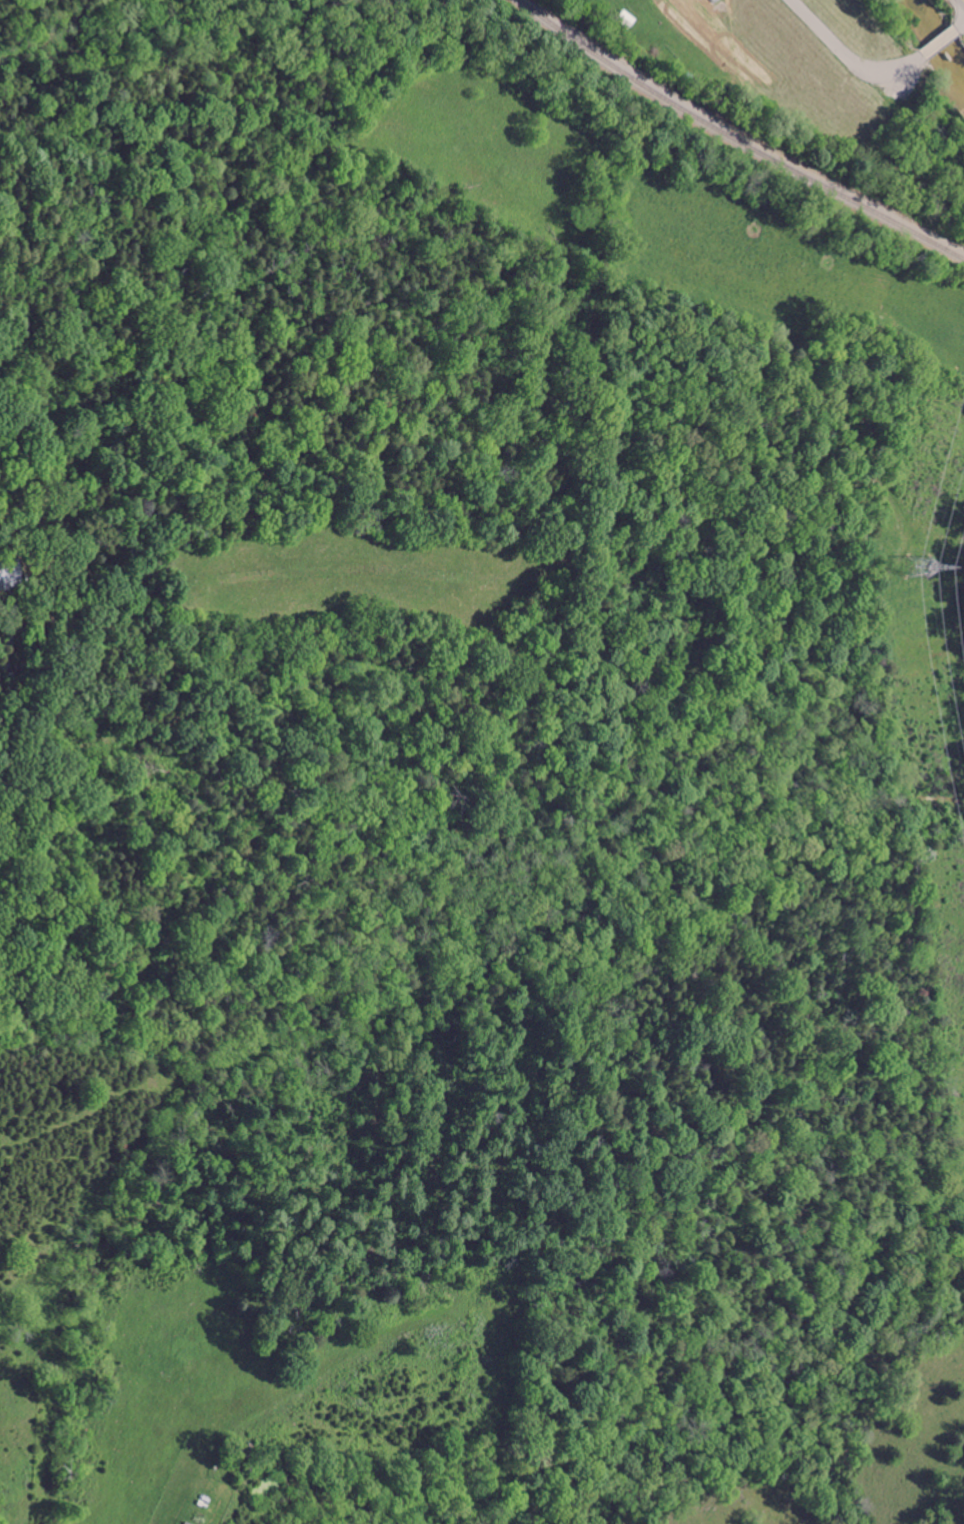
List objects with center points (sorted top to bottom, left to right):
road: (869, 74)
railway: (737, 136)
power tower: (911, 569)
building: (233, 1518)

